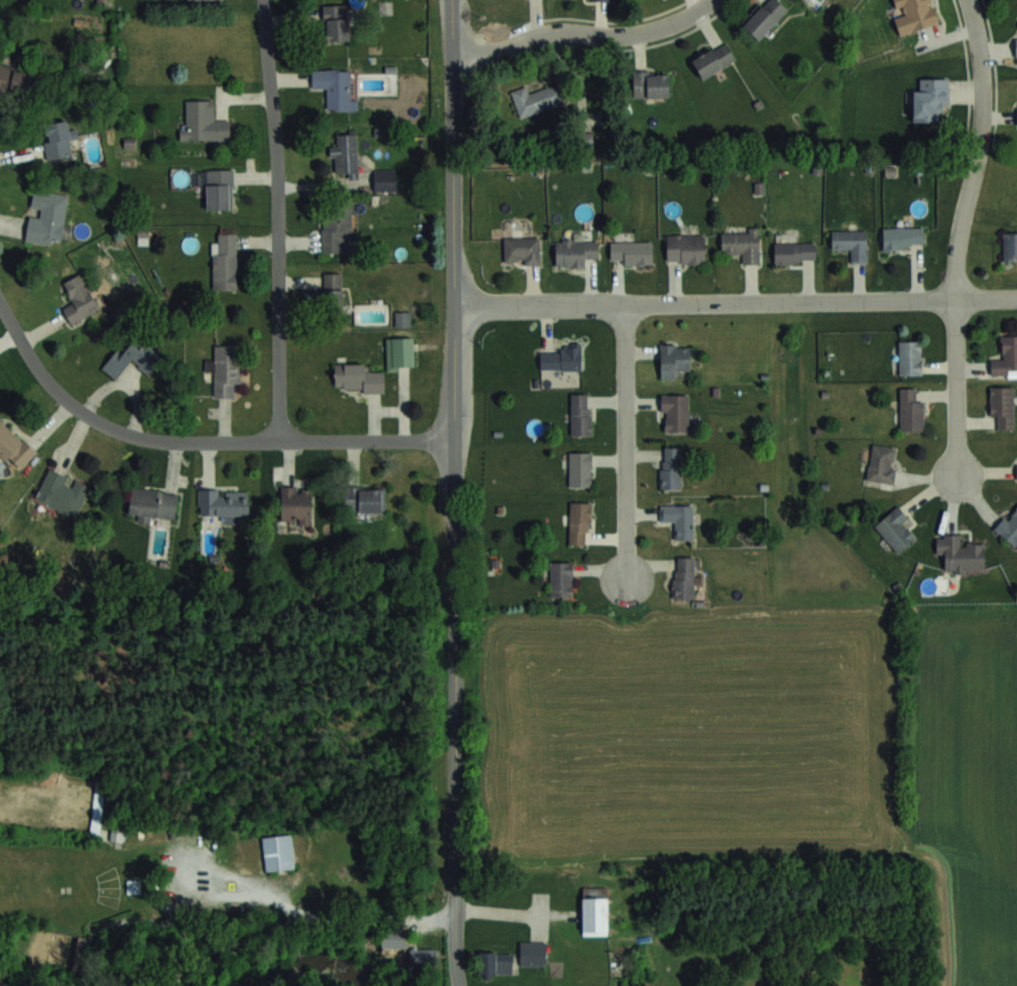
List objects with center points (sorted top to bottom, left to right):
building: (600, 0)
building: (915, 15)
building: (764, 17)
building: (336, 21)
road: (582, 28)
building: (1015, 50)
building: (713, 59)
building: (18, 81)
building: (651, 83)
building: (333, 86)
building: (537, 99)
building: (930, 99)
building: (203, 122)
building: (58, 139)
road: (980, 149)
building: (346, 154)
building: (384, 178)
building: (218, 189)
road: (276, 217)
building: (47, 218)
building: (336, 228)
building: (903, 236)
building: (851, 243)
building: (742, 244)
building: (1010, 245)
building: (685, 249)
building: (521, 251)
building: (631, 252)
building: (794, 252)
building: (574, 253)
building: (224, 262)
building: (332, 295)
building: (79, 300)
road: (735, 301)
building: (403, 318)
building: (136, 352)
building: (400, 352)
building: (910, 356)
building: (562, 357)
building: (1006, 357)
building: (674, 359)
building: (225, 368)
building: (356, 377)
road: (958, 387)
building: (1002, 405)
building: (910, 409)
building: (675, 411)
building: (581, 413)
road: (198, 438)
road: (628, 442)
building: (14, 447)
building: (882, 463)
building: (670, 466)
building: (580, 468)
building: (1016, 470)
building: (62, 493)
road: (453, 493)
building: (365, 498)
building: (223, 502)
building: (153, 504)
building: (296, 505)
building: (679, 519)
building: (579, 522)
building: (1009, 526)
building: (895, 528)
building: (960, 553)
building: (561, 577)
building: (684, 577)
crop: (765, 746)
building: (98, 807)
building: (277, 853)
road: (333, 915)
building: (594, 915)
building: (532, 953)
building: (422, 957)
building: (495, 962)
river: (306, 967)

